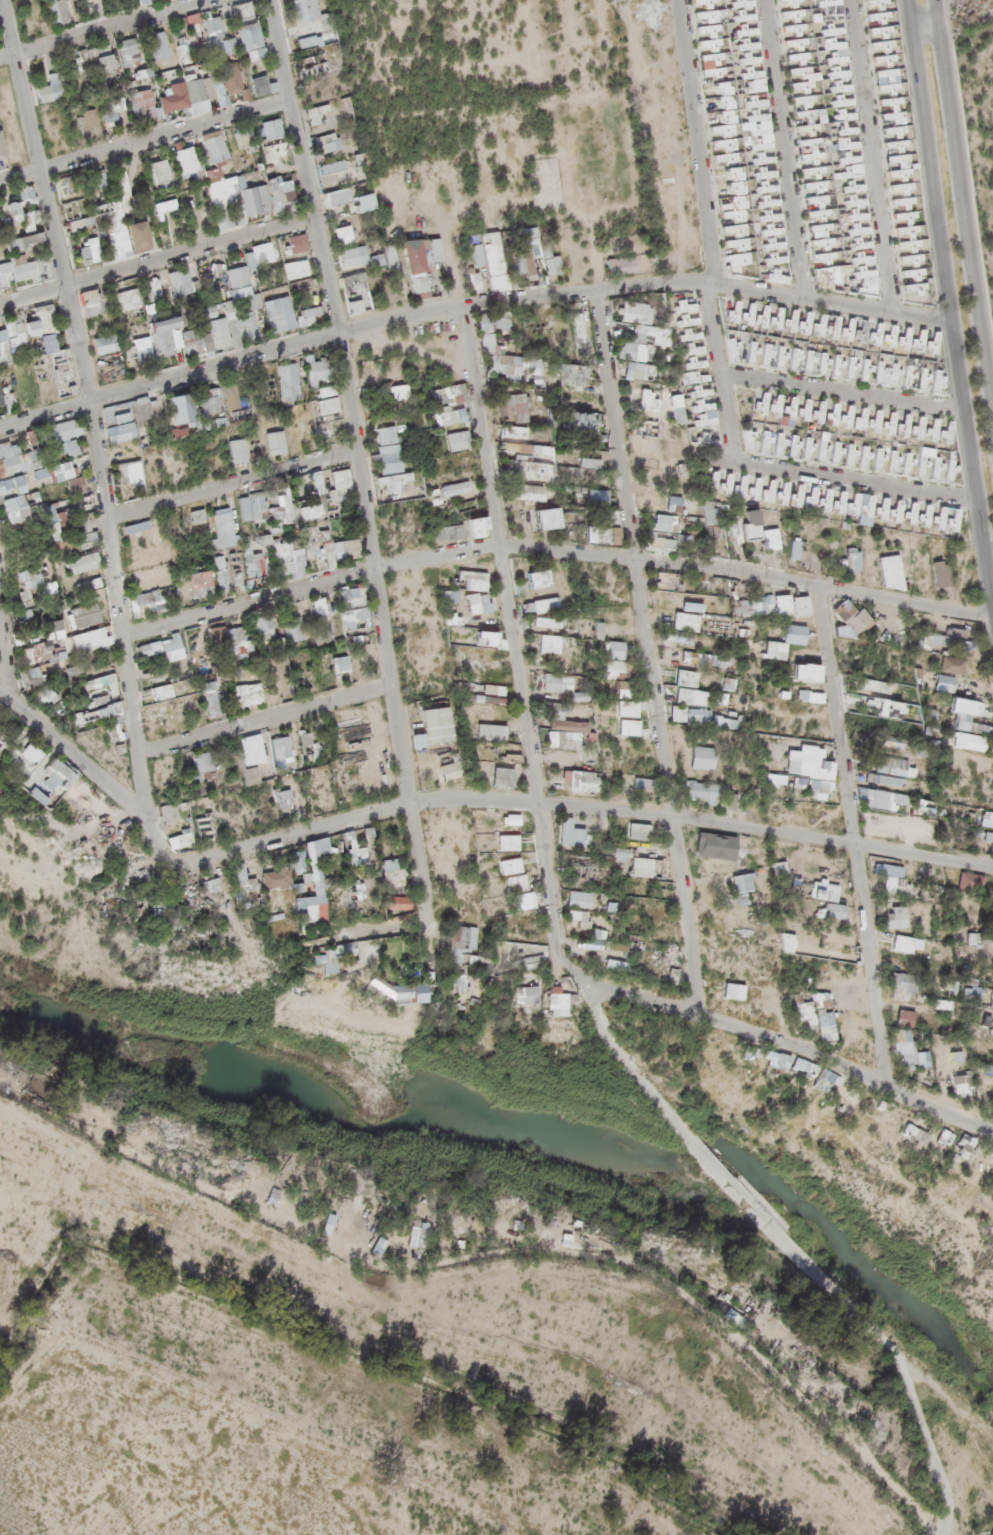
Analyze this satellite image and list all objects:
river: (525, 1123)

